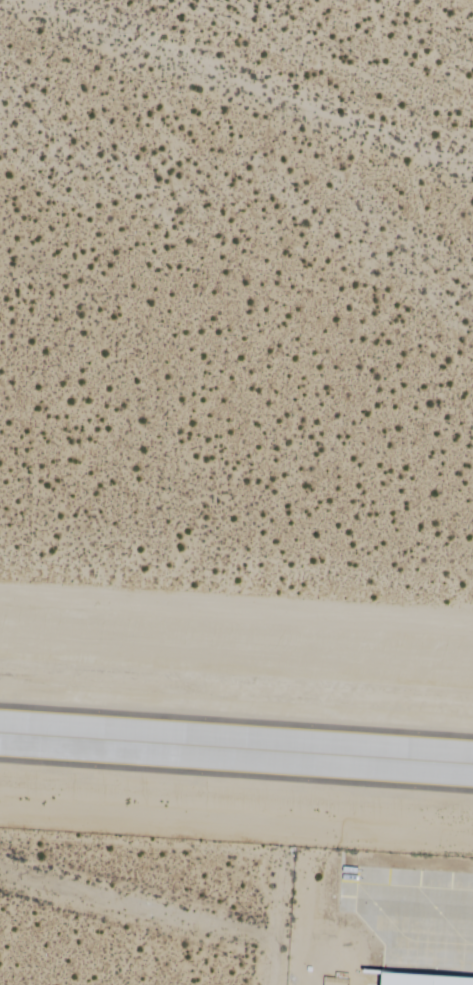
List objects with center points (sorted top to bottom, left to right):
airport: (236, 492)
airport taxiway: (236, 748)
airport hangar: (408, 982)
building: (408, 982)

